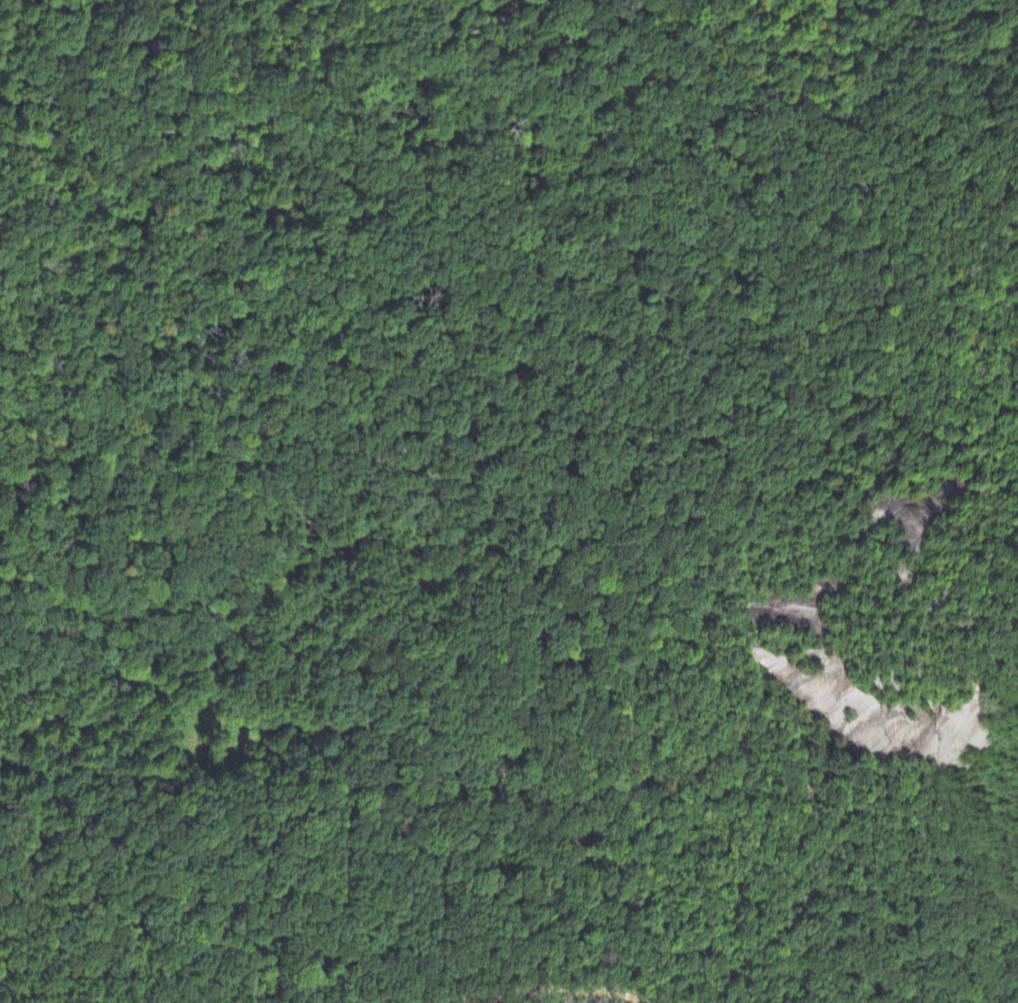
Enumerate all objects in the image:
park: (612, 136)
park: (981, 958)

